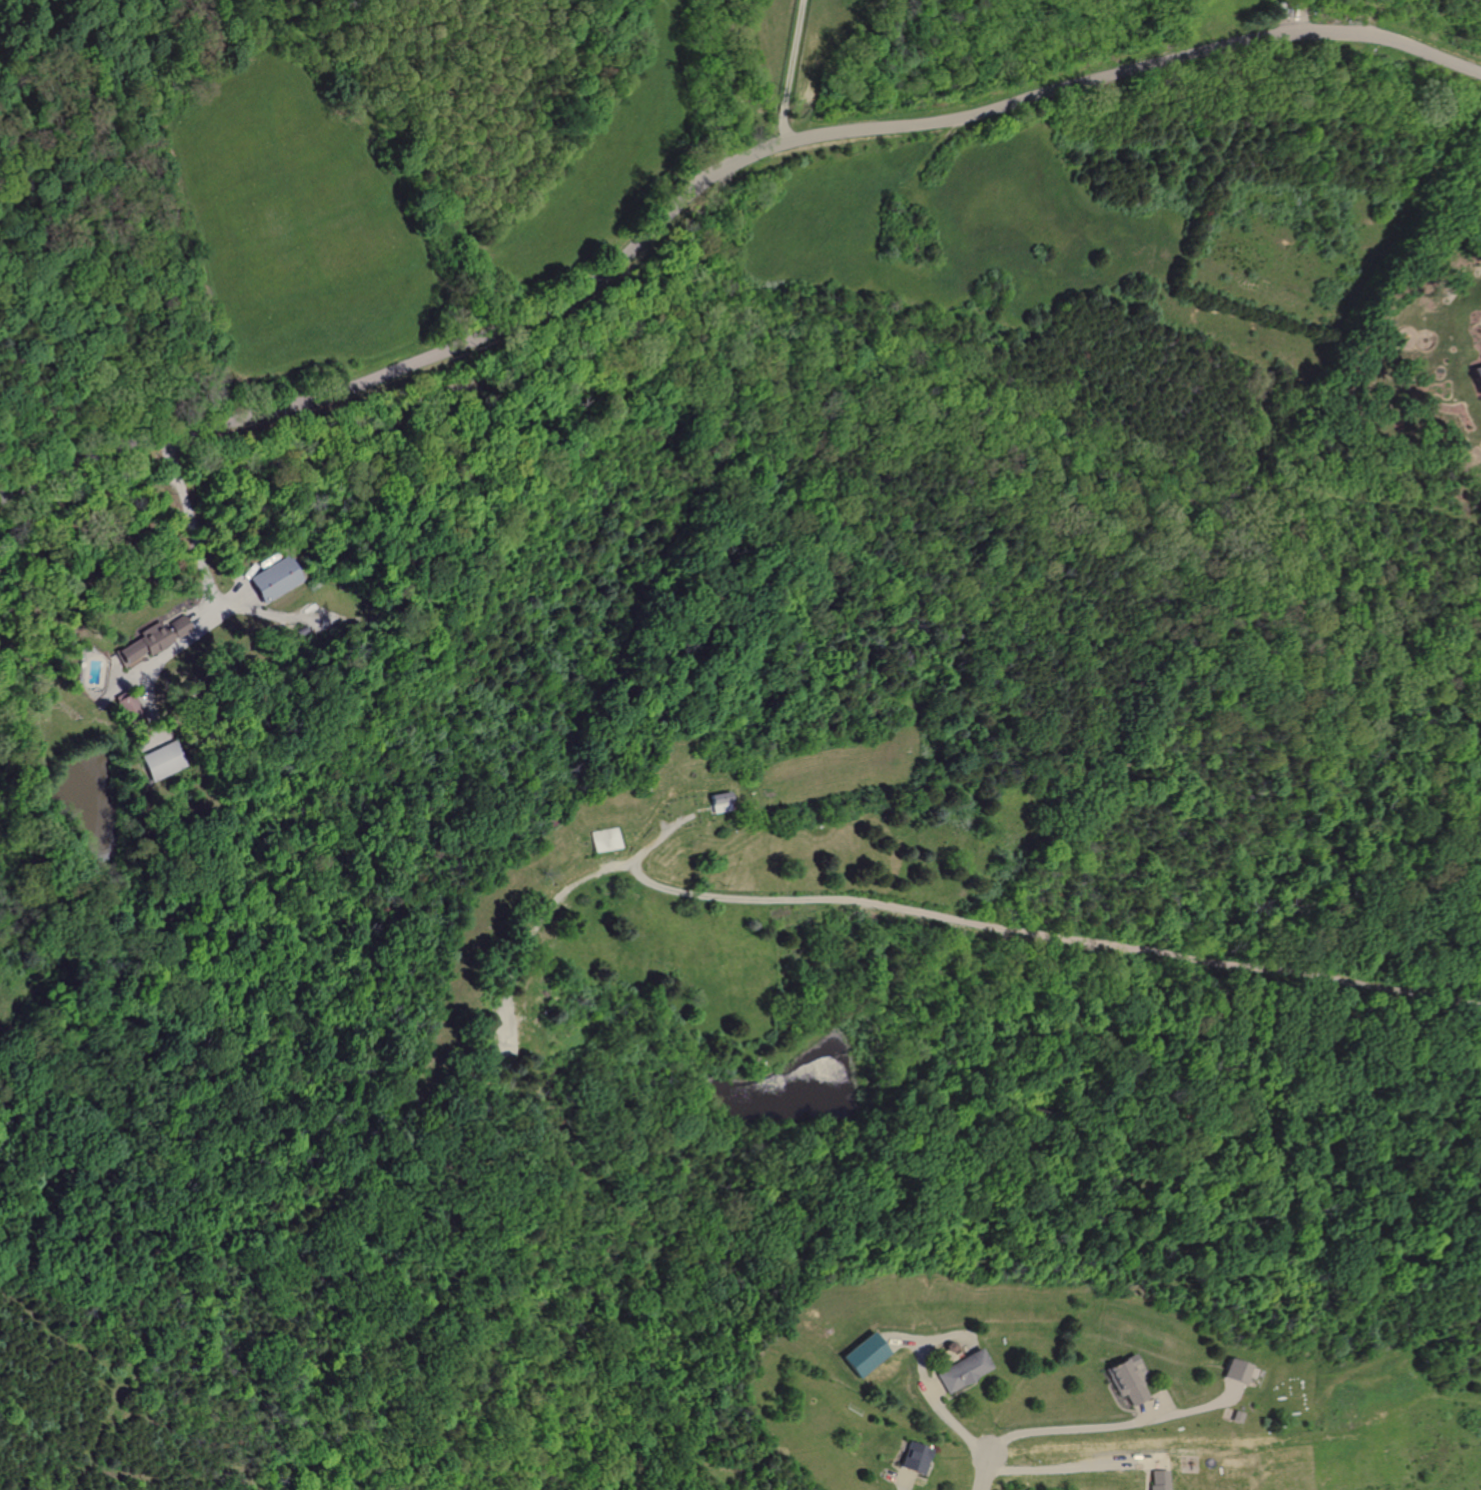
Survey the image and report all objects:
road: (793, 74)
road: (712, 175)
building: (1476, 378)
road: (190, 520)
building: (270, 579)
building: (175, 627)
building: (139, 644)
building: (160, 762)
building: (716, 802)
building: (602, 840)
road: (548, 905)
road: (1017, 924)
building: (505, 1034)
building: (860, 1354)
building: (959, 1371)
building: (1234, 1371)
building: (1123, 1382)
road: (1142, 1409)
road: (948, 1421)
road: (1111, 1421)
building: (912, 1457)
road: (1065, 1467)
road: (981, 1471)
road: (902, 1479)
building: (1154, 1480)

